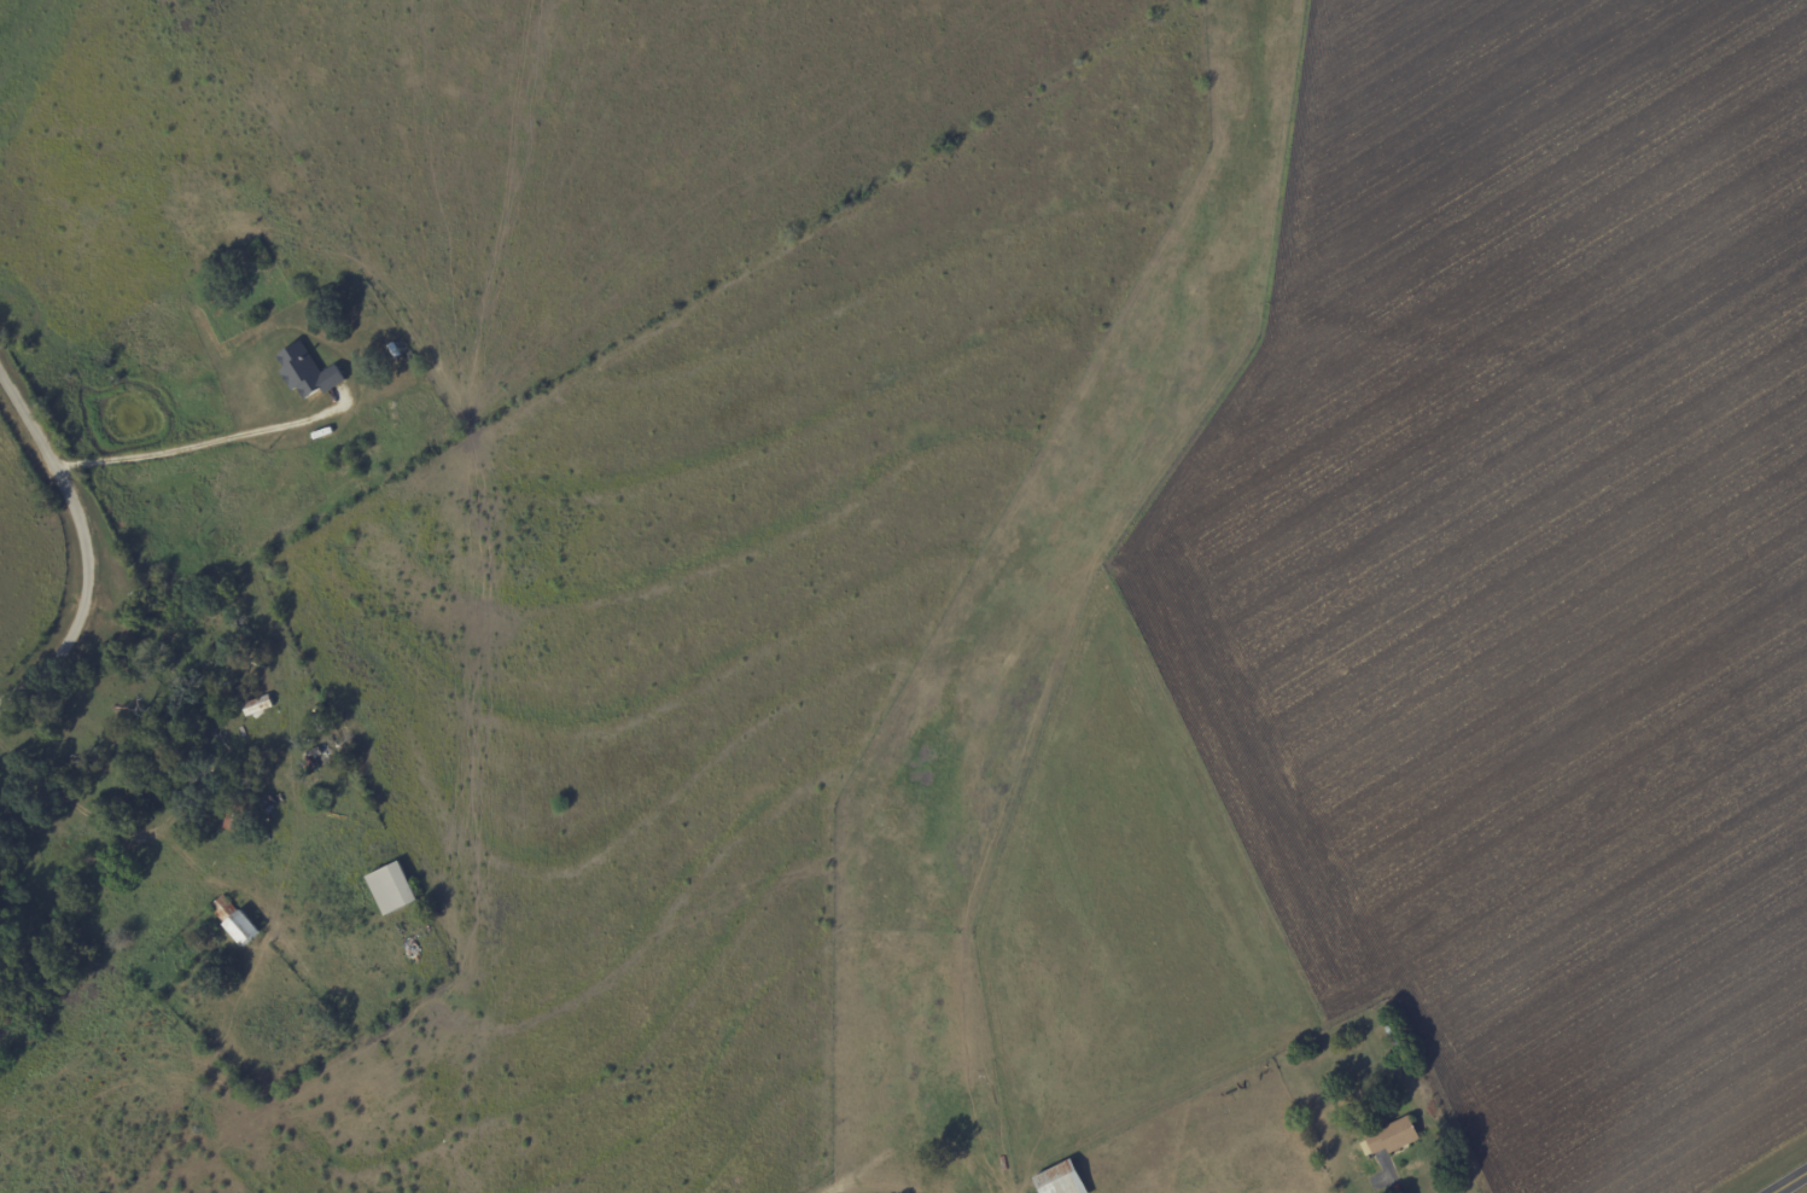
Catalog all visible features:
building: (309, 371)
road: (194, 440)
road: (87, 548)
building: (258, 704)
road: (103, 814)
building: (397, 888)
building: (225, 908)
building: (246, 929)
building: (1389, 1135)
road: (1399, 1176)
building: (1056, 1179)
road: (1797, 1187)

